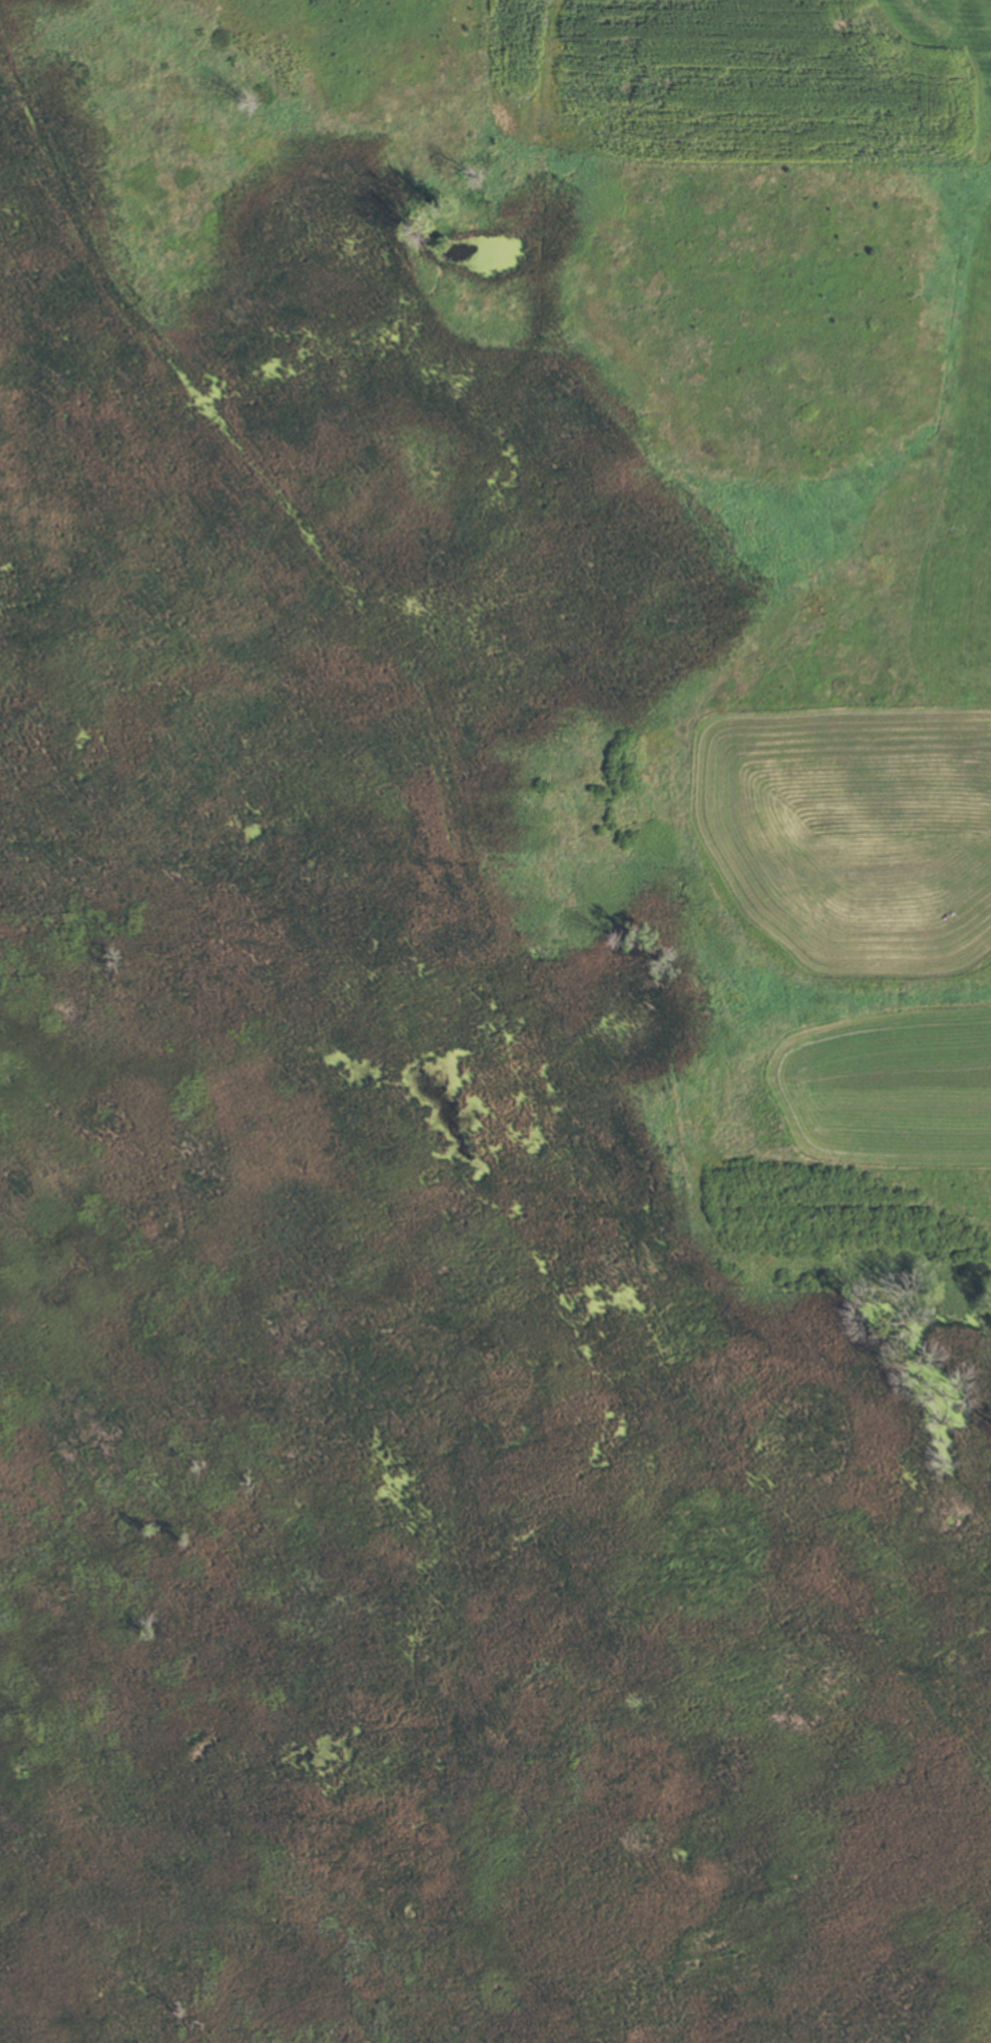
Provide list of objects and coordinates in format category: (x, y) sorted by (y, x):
building: (988, 6)

